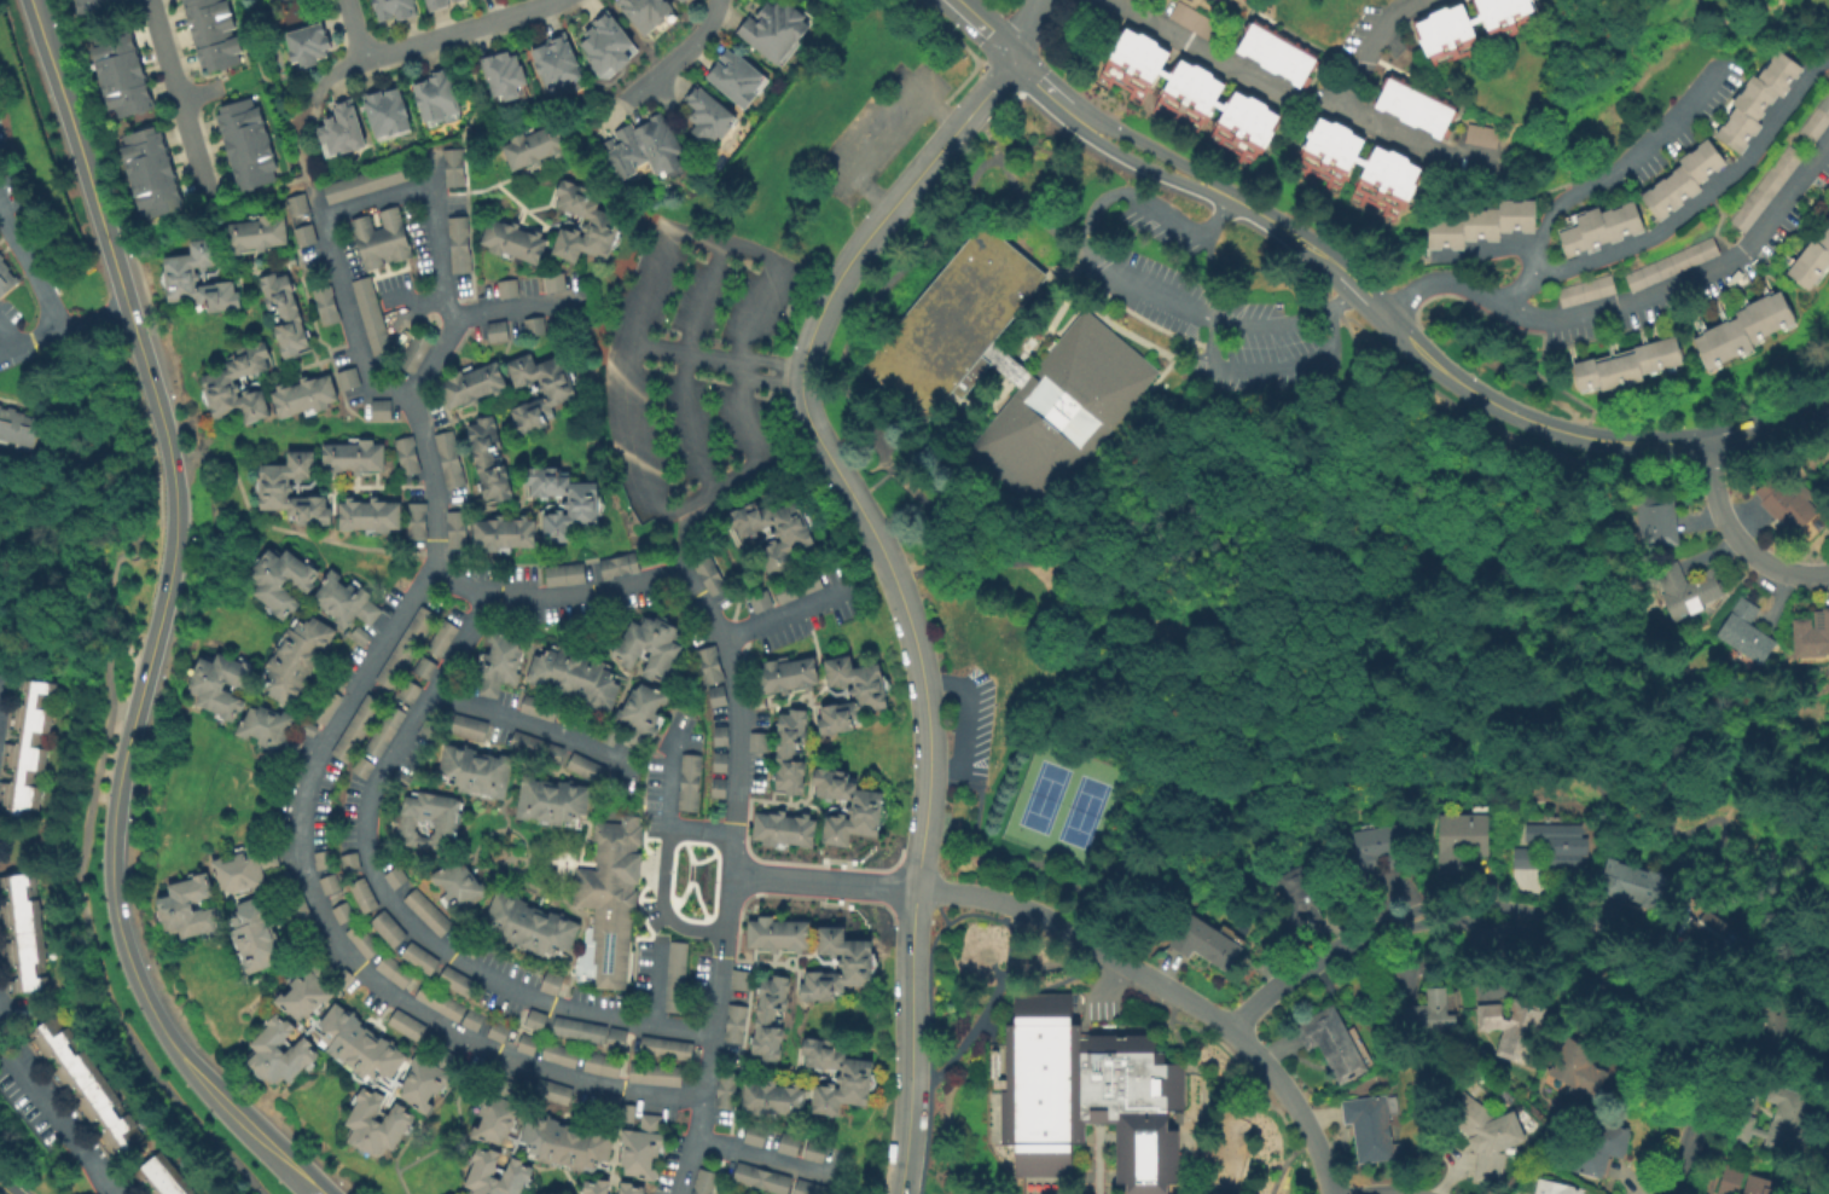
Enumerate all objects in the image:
building: (453, 0)
building: (678, 0)
building: (681, 0)
building: (1252, 0)
building: (436, 4)
building: (94, 6)
building: (394, 10)
building: (645, 12)
building: (1194, 21)
road: (977, 27)
road: (1023, 27)
building: (774, 30)
building: (1446, 31)
building: (211, 34)
road: (41, 37)
road: (429, 41)
building: (308, 44)
building: (606, 44)
road: (684, 54)
building: (1276, 54)
building: (557, 62)
road: (336, 71)
building: (120, 73)
building: (503, 75)
building: (736, 79)
road: (1047, 89)
road: (1284, 95)
building: (435, 97)
building: (1189, 97)
building: (1760, 100)
road: (176, 103)
building: (1415, 108)
building: (385, 112)
building: (708, 116)
building: (1817, 122)
road: (872, 128)
building: (342, 129)
building: (1482, 135)
road: (1398, 139)
building: (245, 144)
building: (533, 146)
road: (1146, 146)
building: (644, 147)
road: (1136, 162)
building: (451, 167)
road: (465, 168)
building: (1324, 170)
road: (1614, 170)
building: (150, 174)
building: (364, 181)
building: (1685, 181)
road: (302, 185)
road: (266, 189)
road: (1016, 189)
building: (1767, 189)
building: (295, 203)
road: (312, 204)
road: (1685, 211)
building: (598, 220)
road: (435, 222)
building: (1483, 225)
road: (1279, 226)
building: (1603, 230)
building: (256, 231)
building: (301, 233)
building: (379, 237)
building: (510, 239)
road: (731, 243)
building: (457, 244)
road: (1491, 251)
building: (0, 257)
building: (1673, 265)
building: (1813, 265)
road: (30, 267)
building: (179, 276)
building: (6, 280)
building: (552, 280)
road: (1691, 282)
road: (1440, 284)
building: (505, 288)
road: (1144, 288)
building: (1587, 291)
road: (1343, 297)
building: (323, 303)
road: (403, 303)
road: (512, 306)
building: (283, 313)
building: (368, 314)
road: (460, 315)
road: (127, 317)
road: (1272, 321)
building: (532, 325)
road: (60, 328)
building: (494, 330)
building: (1747, 332)
road: (1128, 334)
road: (1543, 336)
road: (6, 341)
road: (1037, 349)
building: (411, 352)
road: (681, 352)
road: (452, 355)
road: (768, 360)
road: (680, 365)
building: (1011, 367)
building: (1631, 367)
road: (1018, 372)
building: (346, 376)
road: (771, 377)
building: (216, 379)
road: (763, 379)
building: (470, 383)
building: (536, 389)
road: (1558, 389)
building: (301, 395)
road: (1798, 402)
building: (378, 407)
road: (1801, 418)
road: (953, 422)
road: (1540, 424)
building: (17, 429)
road: (777, 429)
road: (819, 446)
building: (405, 454)
building: (352, 456)
building: (447, 458)
building: (487, 458)
road: (464, 469)
road: (878, 469)
building: (1827, 470)
road: (753, 482)
building: (273, 487)
building: (1789, 497)
road: (213, 498)
building: (564, 503)
building: (367, 514)
road: (1421, 516)
building: (414, 520)
building: (1657, 521)
building: (454, 528)
building: (772, 531)
road: (972, 532)
road: (292, 533)
building: (503, 533)
road: (1737, 537)
road: (681, 541)
road: (436, 557)
road: (565, 563)
building: (616, 564)
building: (562, 573)
building: (707, 574)
building: (278, 580)
building: (807, 582)
road: (423, 584)
building: (1690, 590)
building: (782, 591)
building: (342, 599)
building: (757, 601)
road: (786, 615)
building: (1742, 632)
building: (362, 634)
building: (1810, 636)
building: (443, 637)
building: (402, 645)
building: (649, 645)
road: (57, 648)
building: (296, 657)
building: (499, 663)
building: (710, 665)
building: (426, 668)
building: (576, 674)
building: (786, 677)
building: (219, 683)
building: (412, 691)
building: (718, 695)
building: (852, 697)
road: (969, 700)
building: (326, 706)
building: (540, 708)
building: (641, 714)
road: (532, 724)
building: (307, 728)
building: (358, 728)
building: (470, 728)
building: (271, 730)
building: (385, 730)
building: (431, 731)
building: (612, 736)
building: (721, 736)
building: (760, 744)
building: (25, 746)
building: (538, 747)
building: (790, 753)
building: (720, 761)
building: (364, 766)
building: (586, 767)
road: (945, 770)
building: (475, 771)
building: (690, 782)
building: (719, 788)
building: (552, 801)
park: (1061, 805)
building: (849, 810)
road: (668, 815)
building: (429, 821)
road: (1670, 824)
building: (783, 831)
building: (1461, 840)
building: (1558, 844)
road: (1183, 845)
building: (1375, 853)
building: (1526, 857)
building: (324, 858)
road: (692, 860)
building: (350, 862)
building: (243, 868)
building: (281, 876)
building: (397, 877)
road: (821, 881)
building: (329, 883)
building: (1632, 885)
building: (458, 886)
building: (1301, 889)
road: (79, 891)
building: (364, 894)
building: (611, 895)
road: (695, 895)
road: (657, 899)
road: (675, 900)
road: (660, 903)
building: (296, 904)
road: (1009, 904)
road: (395, 906)
building: (187, 908)
road: (112, 909)
building: (342, 911)
building: (428, 912)
road: (1808, 916)
road: (704, 918)
road: (959, 918)
building: (1706, 925)
building: (530, 926)
building: (389, 928)
road: (1638, 933)
building: (22, 934)
building: (254, 934)
building: (779, 934)
building: (364, 940)
building: (1206, 943)
building: (471, 946)
road: (1009, 947)
road: (991, 950)
road: (1622, 952)
building: (422, 958)
road: (1312, 963)
building: (840, 964)
building: (395, 972)
road: (1143, 975)
building: (677, 976)
road: (1766, 978)
building: (742, 980)
building: (458, 981)
road: (654, 981)
building: (552, 983)
building: (306, 989)
road: (994, 995)
building: (441, 1002)
building: (770, 1016)
building: (1429, 1016)
building: (536, 1019)
building: (474, 1020)
building: (736, 1024)
building: (407, 1025)
building: (1512, 1026)
building: (498, 1031)
building: (580, 1031)
building: (1776, 1036)
road: (1212, 1038)
building: (617, 1039)
road: (907, 1041)
building: (429, 1043)
building: (1332, 1043)
building: (528, 1044)
building: (356, 1045)
building: (666, 1048)
building: (278, 1053)
building: (561, 1055)
road: (930, 1056)
building: (603, 1065)
building: (1578, 1067)
building: (656, 1074)
building: (838, 1077)
building: (428, 1080)
building: (85, 1088)
building: (727, 1089)
building: (553, 1092)
building: (774, 1099)
building: (1084, 1100)
building: (611, 1105)
road: (57, 1112)
building: (494, 1113)
building: (629, 1113)
building: (1776, 1120)
building: (374, 1124)
building: (1371, 1129)
road: (461, 1131)
building: (1486, 1134)
building: (756, 1135)
building: (567, 1143)
building: (790, 1144)
road: (693, 1146)
building: (1598, 1146)
building: (644, 1147)
building: (815, 1150)
road: (761, 1155)
road: (1680, 1166)
road: (1324, 1169)
building: (483, 1170)
road: (1282, 1170)
building: (158, 1177)
building: (762, 1178)
building: (1730, 1179)
building: (706, 1182)
building: (1759, 1186)
building: (596, 1187)
building: (1556, 1187)
building: (631, 1188)
building: (812, 1188)
road: (2, 1190)
road: (314, 1192)

